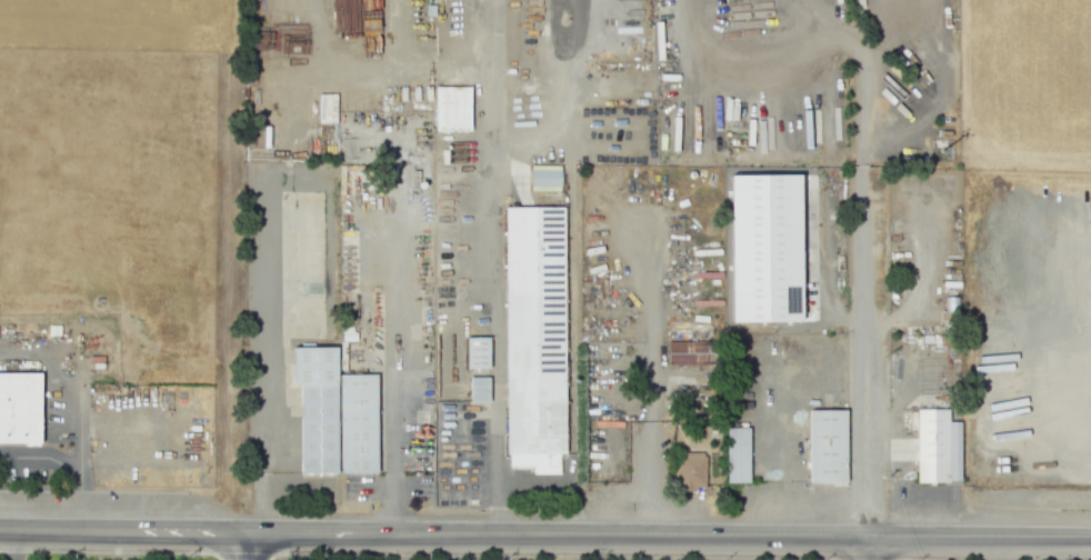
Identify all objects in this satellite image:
road: (747, 53)
road: (374, 67)
crop: (1025, 84)
road: (565, 103)
building: (452, 108)
crop: (121, 172)
building: (544, 176)
building: (764, 248)
road: (864, 260)
road: (492, 267)
building: (536, 338)
building: (477, 352)
building: (689, 352)
road: (266, 364)
road: (397, 380)
building: (478, 389)
building: (20, 409)
road: (650, 409)
road: (77, 413)
building: (334, 414)
building: (828, 447)
building: (933, 447)
building: (738, 457)
road: (40, 458)
road: (164, 459)
building: (691, 470)
road: (121, 531)
road: (667, 536)
road: (12, 544)
road: (243, 547)
road: (867, 549)
street lamp: (272, 559)

